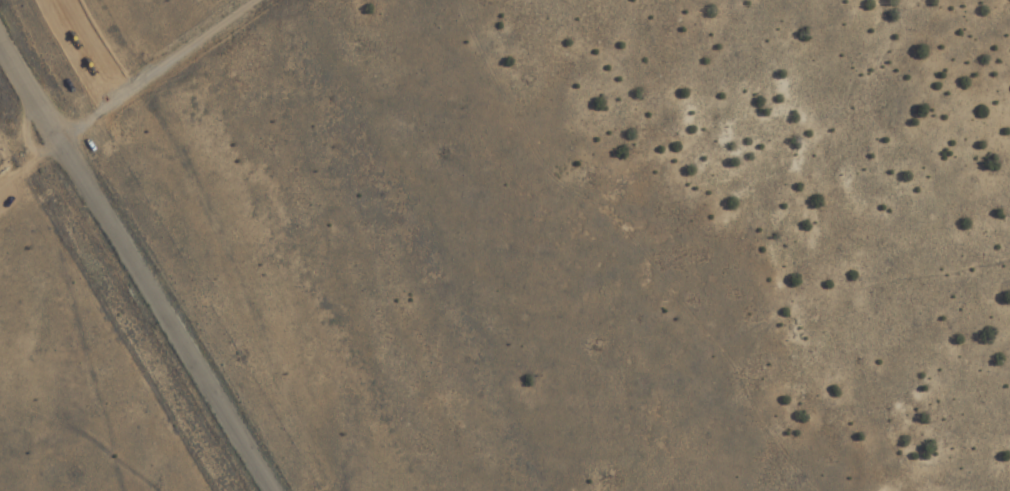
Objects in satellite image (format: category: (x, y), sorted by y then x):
road: (29, 90)
road: (161, 319)

